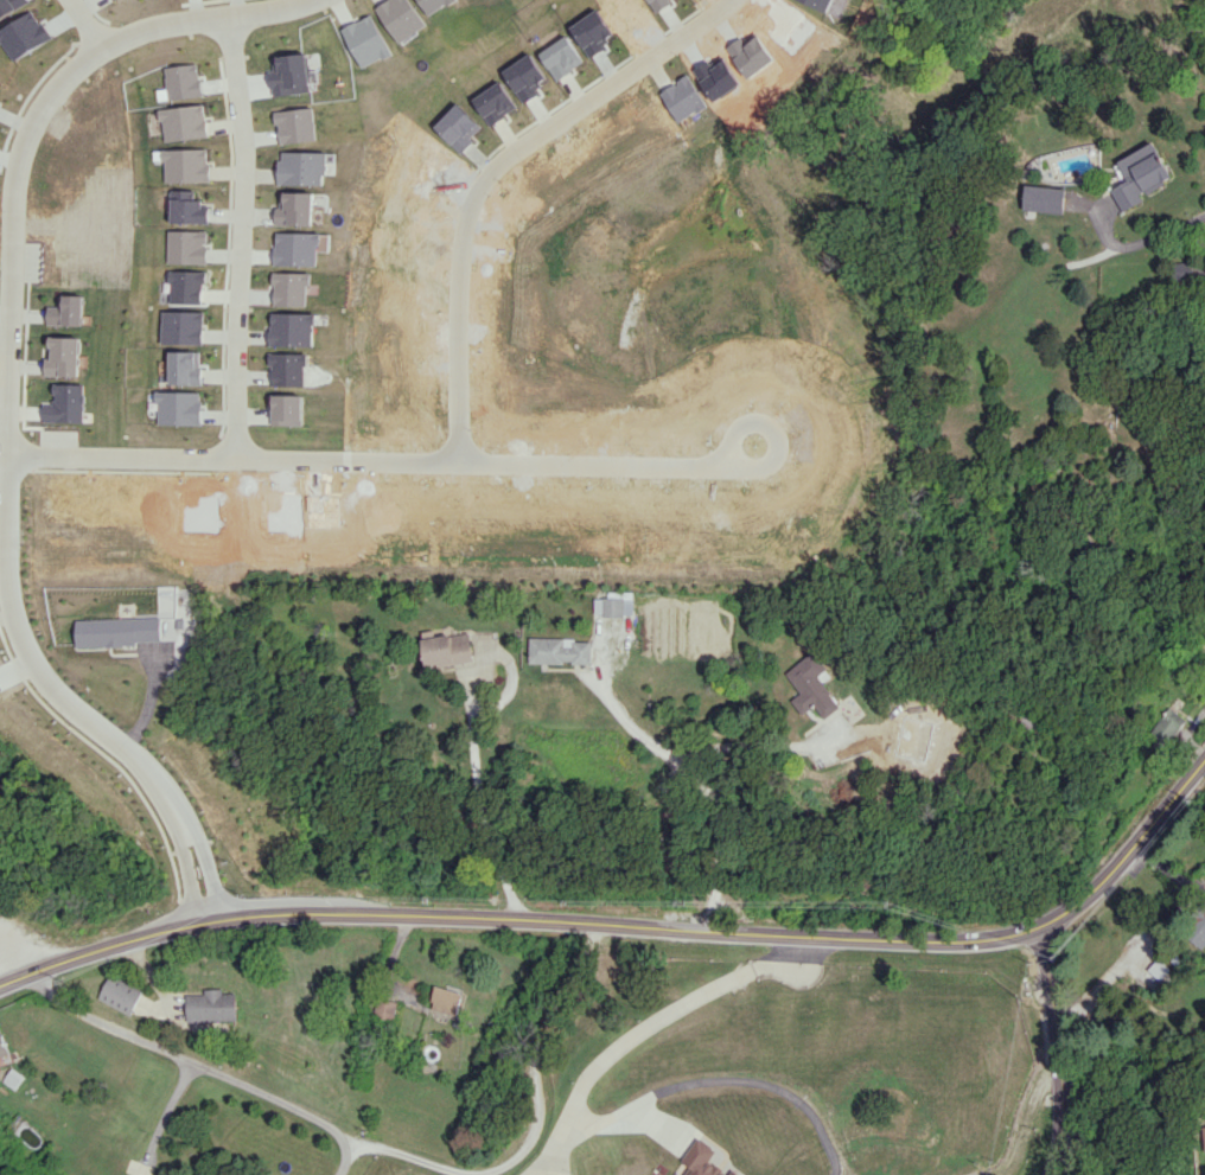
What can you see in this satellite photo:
road: (84, 24)
building: (286, 74)
building: (180, 121)
building: (292, 124)
building: (181, 165)
building: (300, 167)
road: (492, 171)
building: (1137, 175)
building: (1043, 198)
building: (294, 209)
building: (186, 210)
road: (237, 235)
road: (1139, 242)
building: (185, 245)
building: (185, 286)
building: (65, 311)
building: (183, 327)
building: (295, 328)
road: (5, 356)
building: (63, 356)
building: (186, 368)
building: (180, 408)
building: (288, 408)
road: (393, 458)
building: (614, 604)
building: (115, 631)
building: (447, 650)
building: (560, 650)
building: (811, 688)
building: (1169, 726)
road: (766, 745)
road: (687, 766)
road: (483, 800)
road: (211, 871)
road: (191, 876)
road: (635, 925)
building: (1196, 927)
road: (9, 959)
building: (120, 994)
building: (446, 1000)
building: (211, 1005)
building: (384, 1008)
road: (644, 1029)
building: (1, 1047)
road: (1056, 1052)
road: (720, 1079)
road: (167, 1107)
road: (1019, 1136)
building: (1203, 1137)
road: (385, 1148)
road: (344, 1154)

